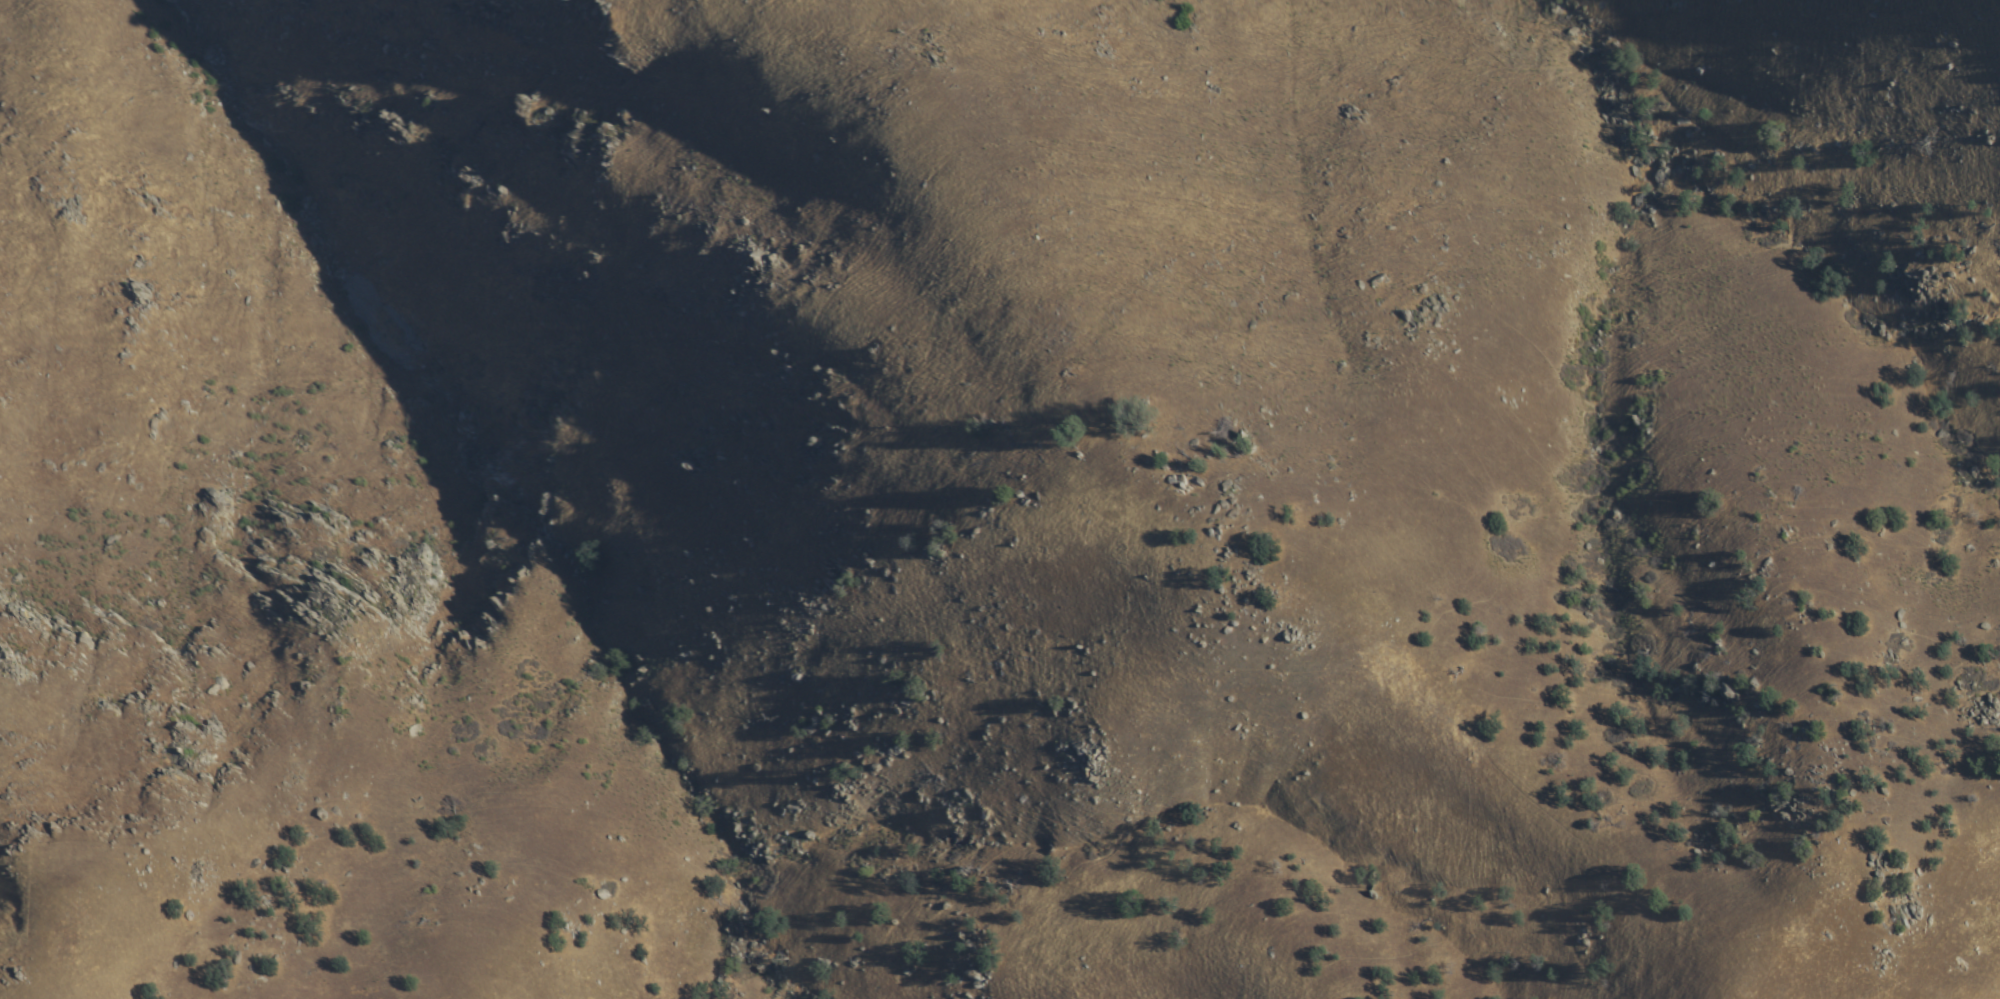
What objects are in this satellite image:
building: (1735, 697)

